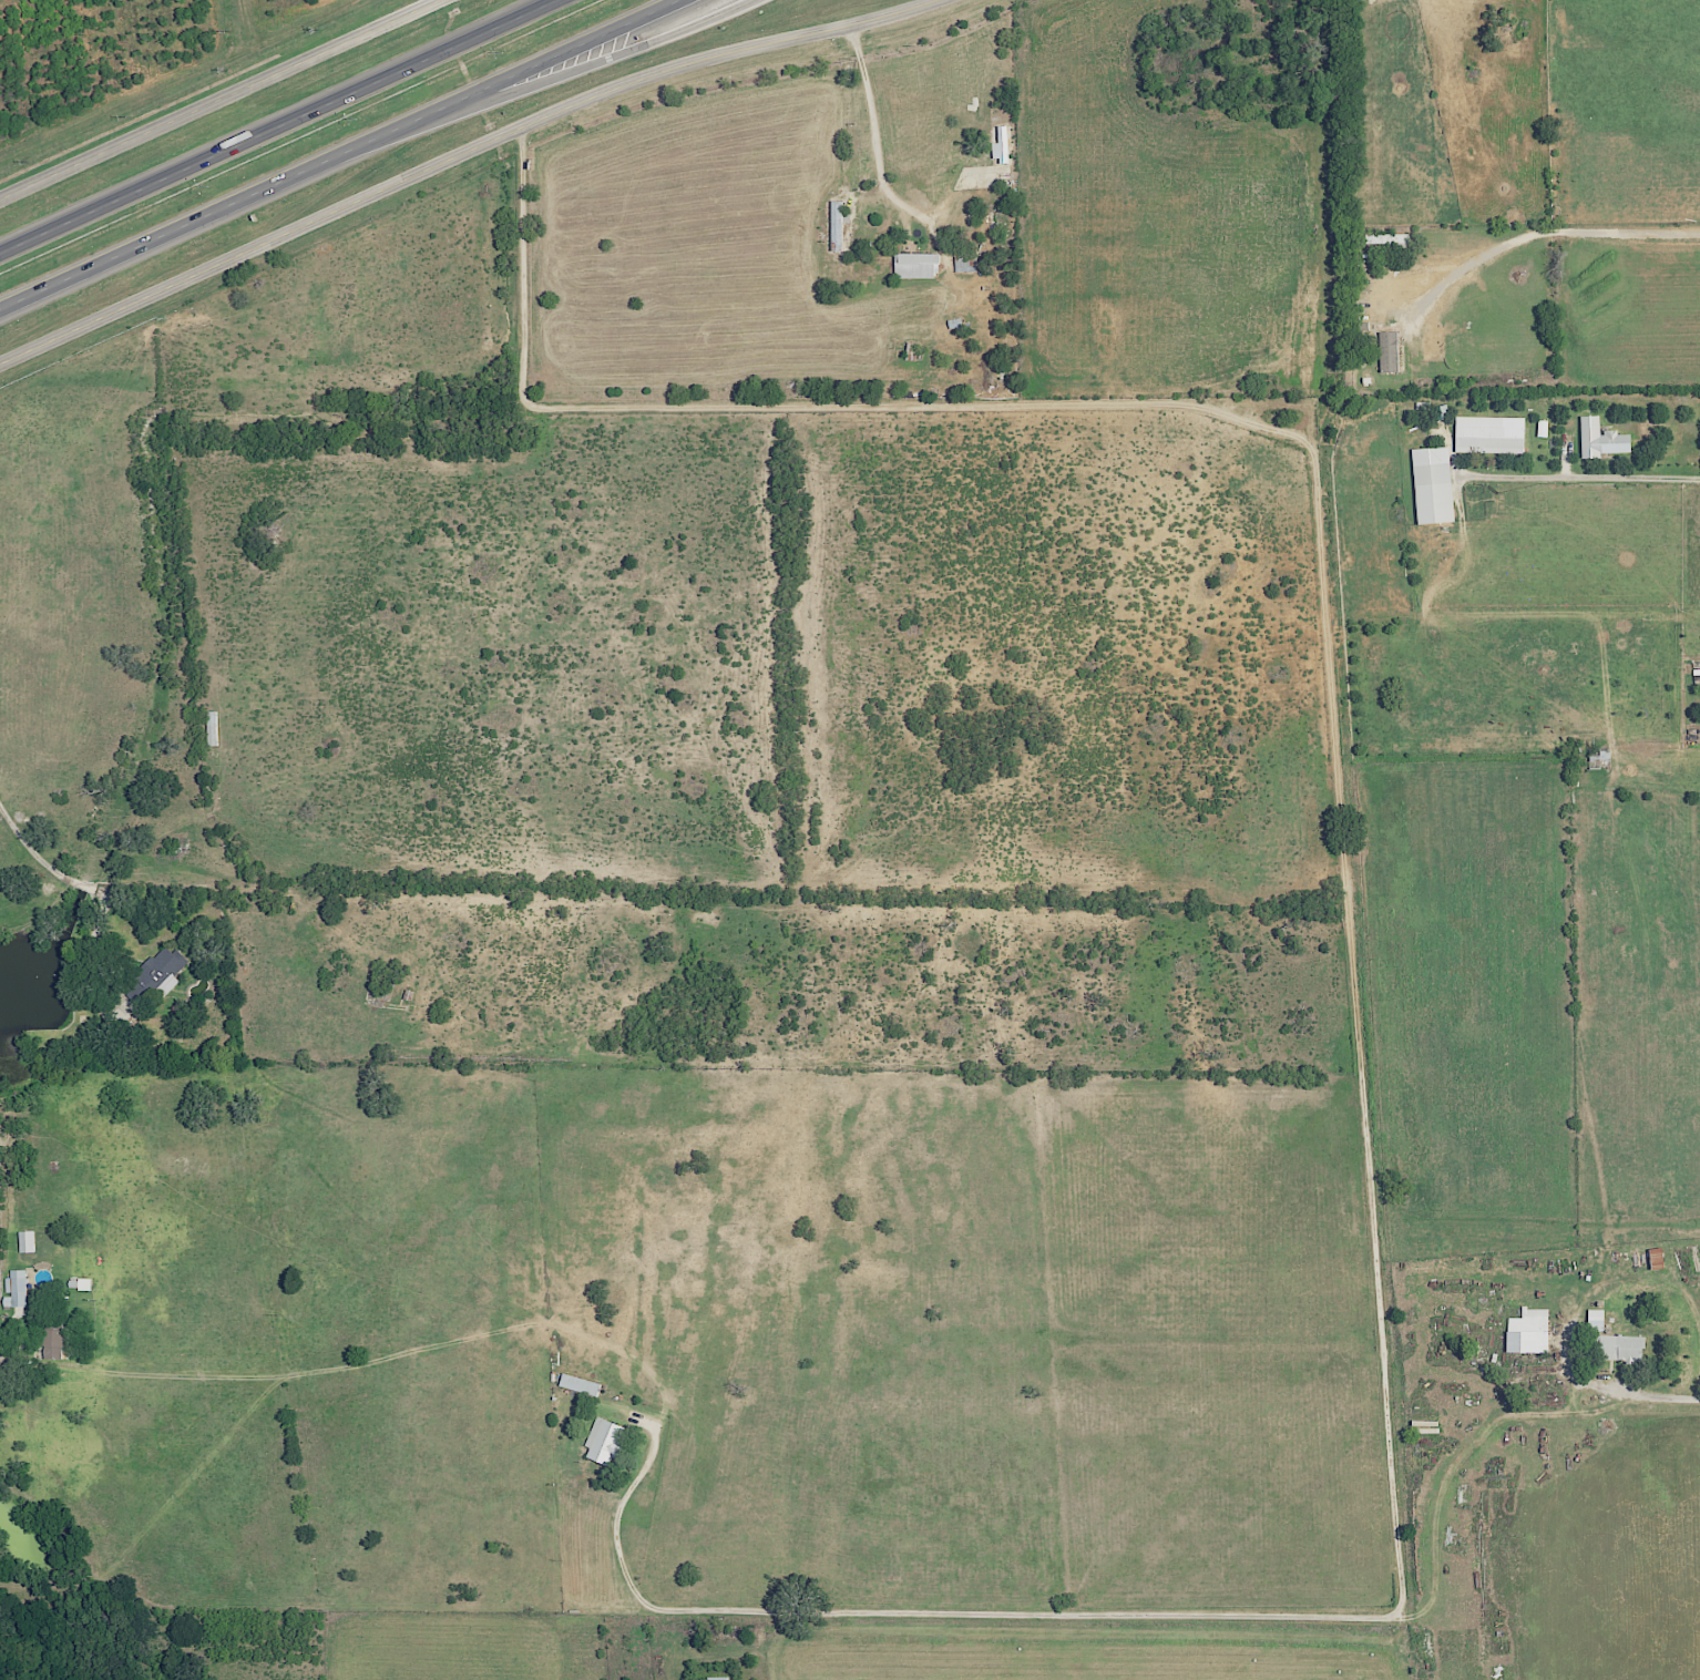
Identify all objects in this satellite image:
road: (505, 79)
road: (537, 80)
road: (222, 100)
road: (268, 122)
road: (873, 135)
building: (1000, 144)
road: (465, 157)
building: (836, 224)
road: (165, 234)
road: (1535, 235)
building: (964, 262)
building: (914, 265)
building: (1389, 351)
building: (1542, 428)
building: (1488, 434)
building: (1600, 438)
road: (1594, 479)
building: (1432, 484)
road: (1318, 502)
road: (39, 861)
building: (161, 969)
building: (25, 1241)
building: (83, 1283)
building: (17, 1287)
building: (1595, 1320)
road: (4, 1331)
building: (1527, 1331)
building: (52, 1343)
building: (1620, 1346)
building: (578, 1384)
building: (603, 1441)
road: (1126, 1619)
building: (717, 1678)

